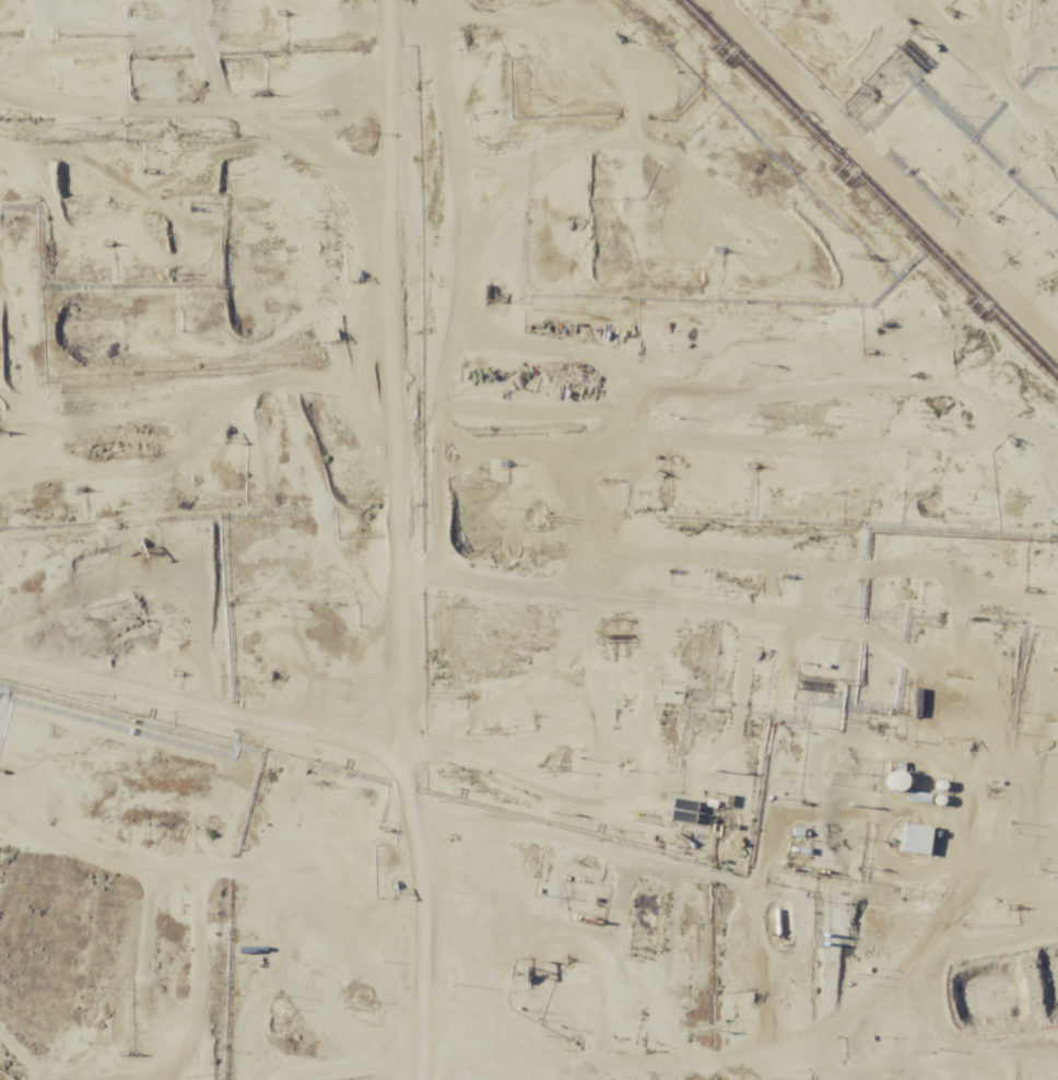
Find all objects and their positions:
building: (107, 1)
road: (198, 81)
road: (415, 527)
building: (897, 779)
building: (915, 840)
building: (924, 870)
wastewater plant: (1025, 997)
building: (724, 1007)

